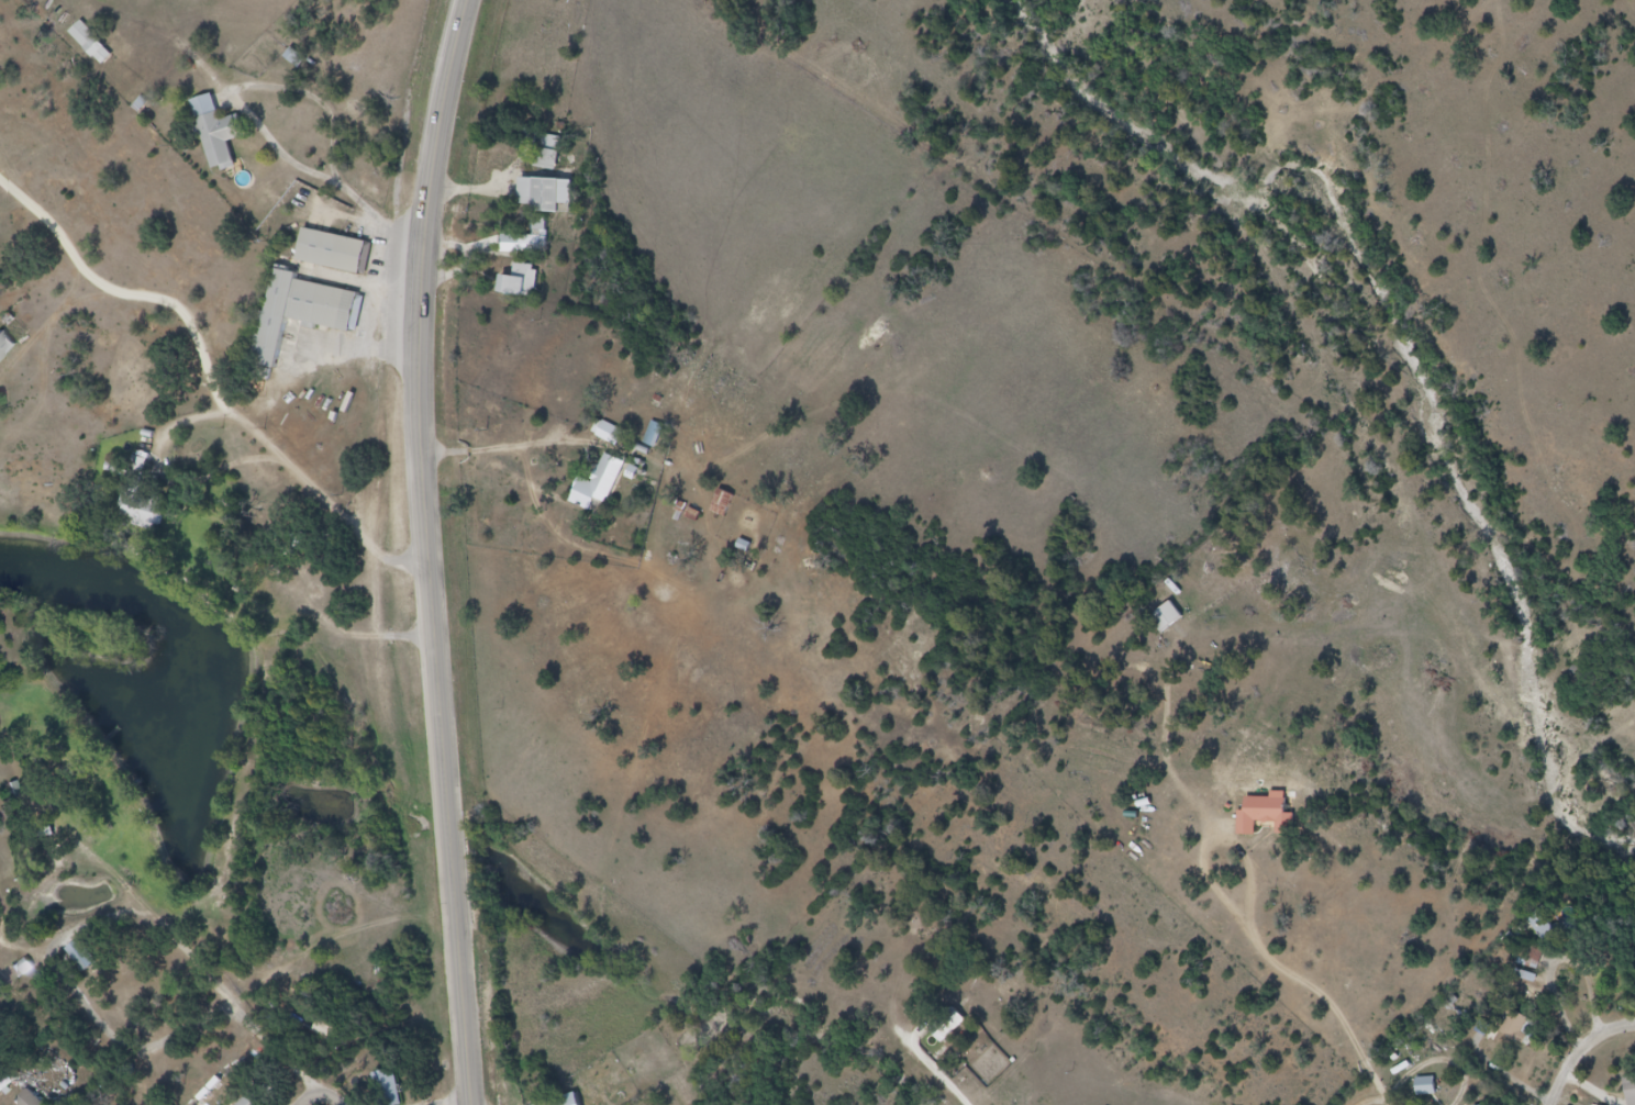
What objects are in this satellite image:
building: (90, 44)
building: (226, 141)
building: (548, 154)
building: (544, 196)
building: (535, 238)
building: (340, 260)
building: (519, 283)
building: (303, 313)
building: (5, 346)
road: (245, 421)
building: (608, 433)
building: (654, 435)
building: (598, 485)
building: (154, 503)
building: (722, 504)
road: (434, 550)
building: (1175, 617)
building: (1276, 824)
road: (1256, 869)
road: (1216, 886)
building: (1547, 925)
building: (1534, 973)
building: (946, 1024)
building: (326, 1029)
building: (1526, 1031)
road: (1586, 1053)
building: (3, 1083)
road: (1387, 1087)
building: (1434, 1089)
building: (398, 1092)
building: (1634, 1093)
road: (319, 1096)
building: (27, 1100)
building: (38, 1101)

